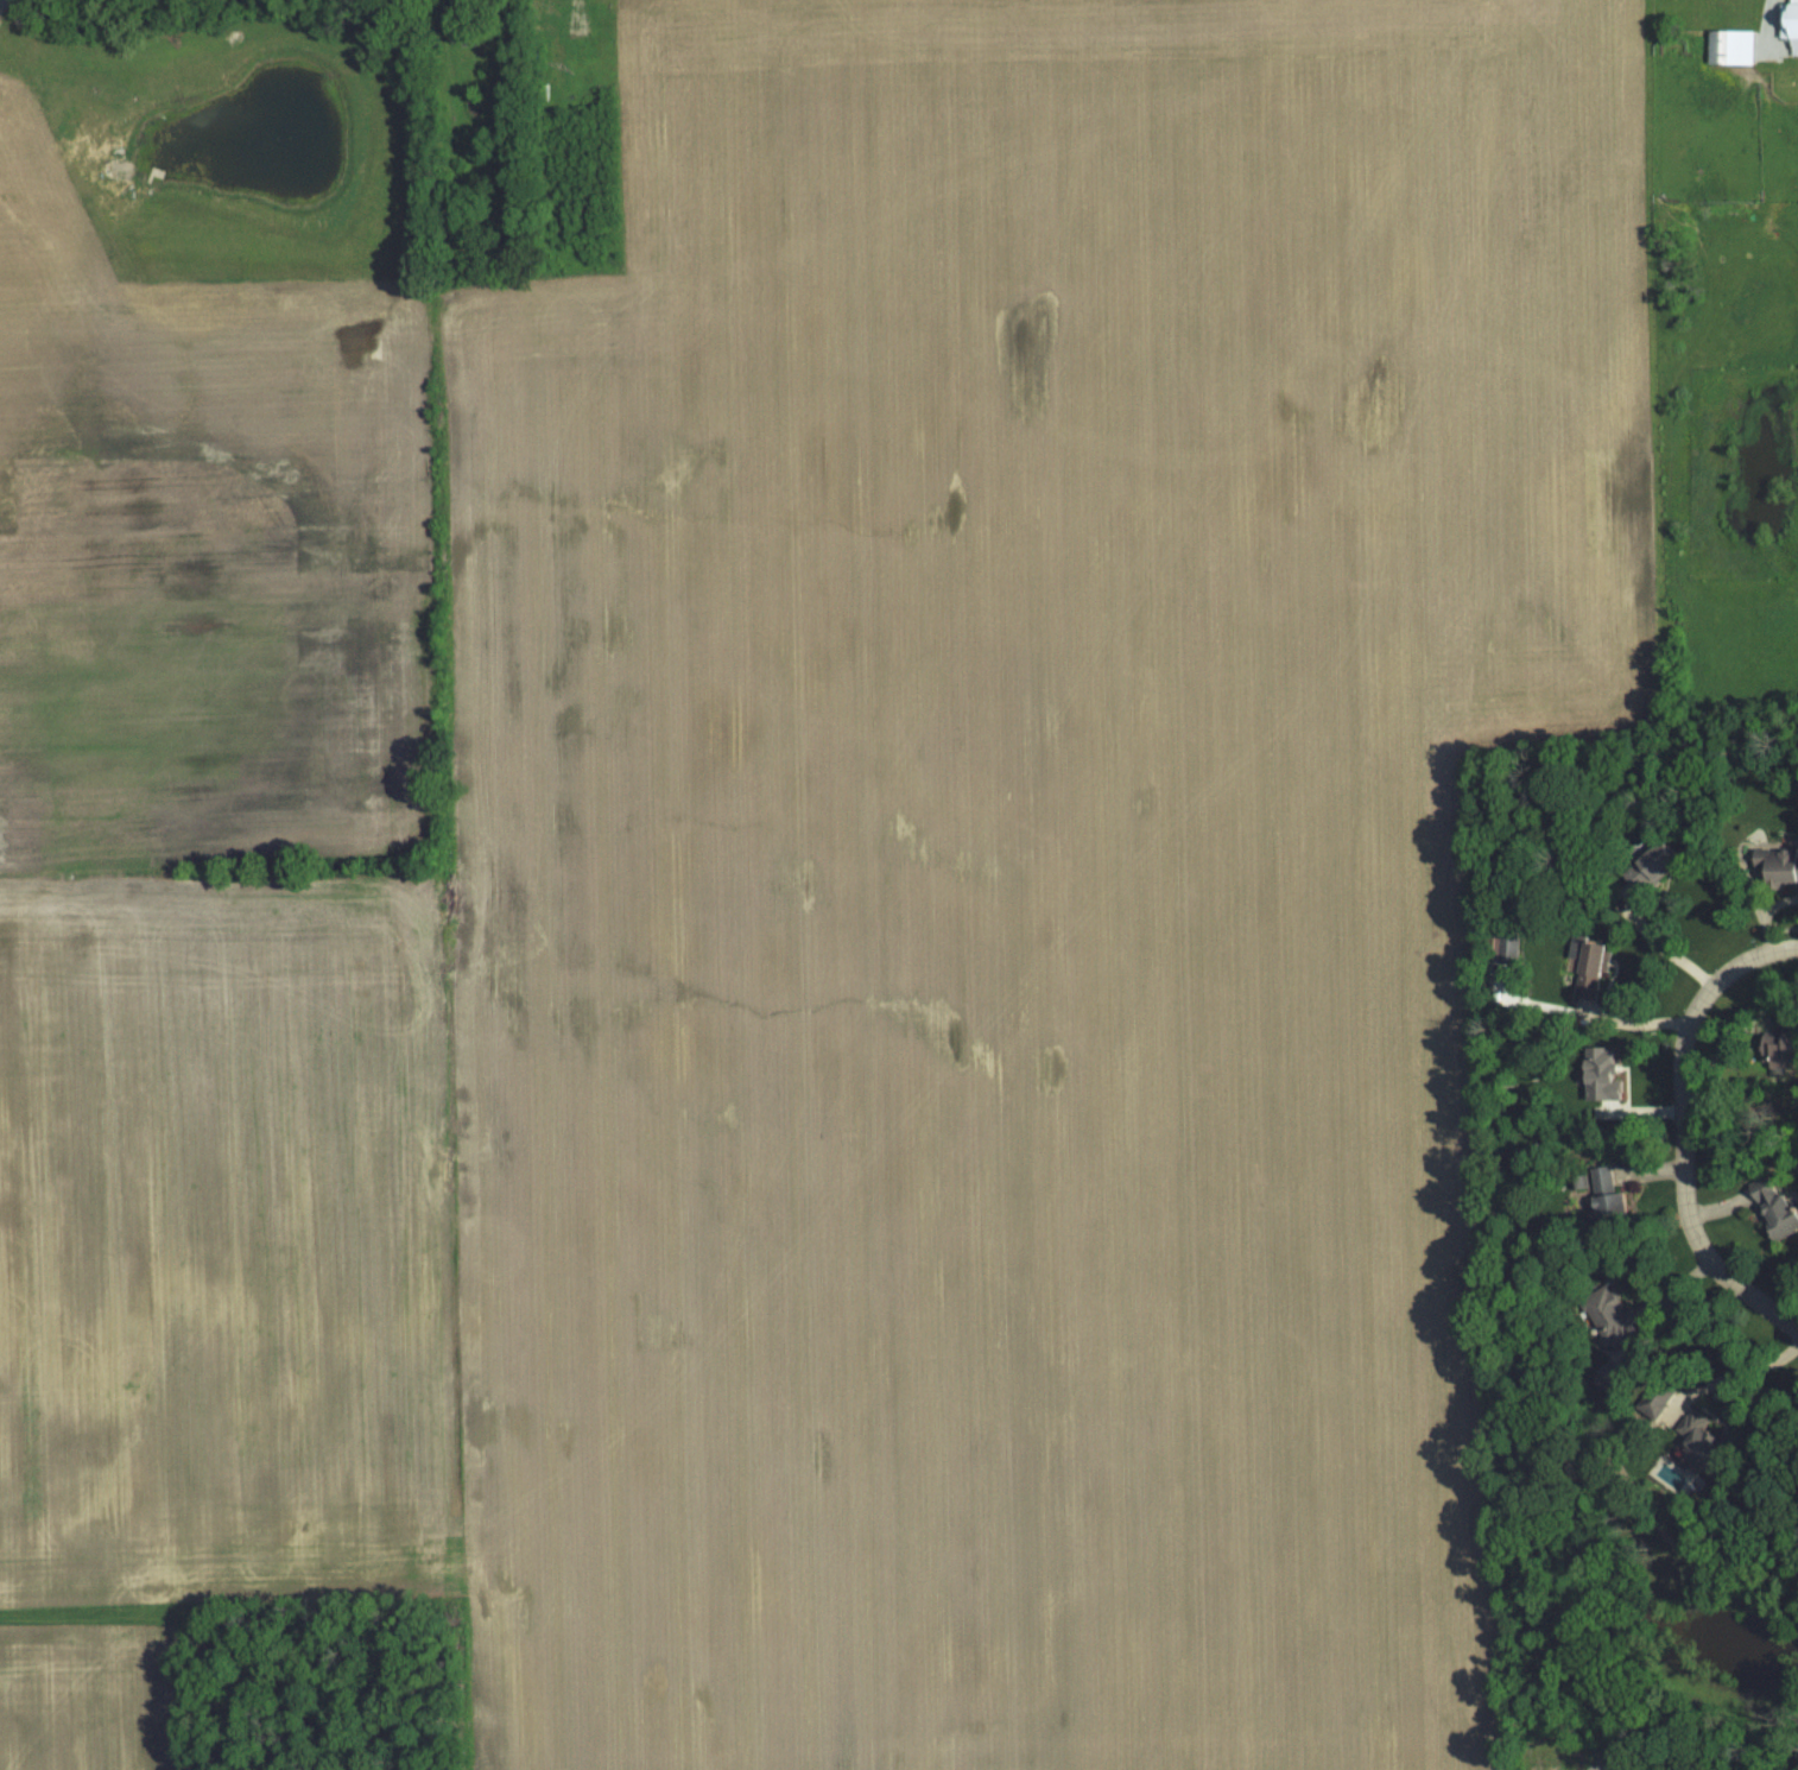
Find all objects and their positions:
building: (1787, 21)
building: (1727, 46)
building: (1646, 865)
building: (1775, 865)
building: (1587, 965)
building: (1771, 1049)
building: (1597, 1076)
road: (1682, 1130)
building: (1603, 1194)
building: (1768, 1213)
road: (1670, 1307)
building: (1607, 1316)
road: (1752, 1372)
building: (1697, 1434)

